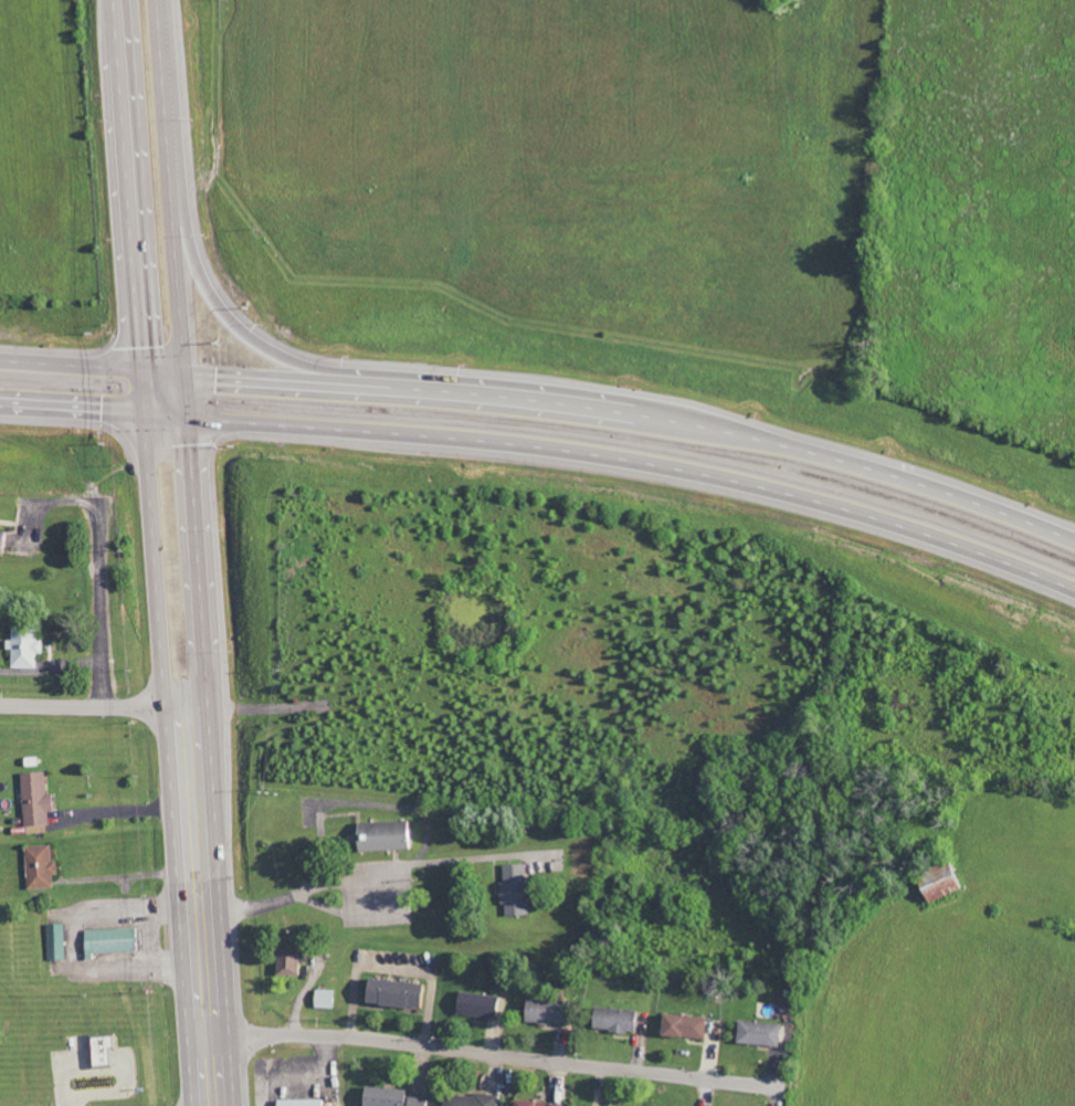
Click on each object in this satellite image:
road: (125, 185)
road: (168, 187)
road: (254, 343)
road: (89, 366)
road: (139, 392)
road: (71, 411)
road: (635, 418)
road: (616, 456)
building: (6, 541)
road: (103, 604)
building: (30, 646)
road: (83, 703)
road: (234, 705)
road: (188, 706)
road: (259, 712)
road: (213, 740)
road: (169, 760)
building: (41, 800)
building: (391, 835)
building: (44, 866)
building: (953, 882)
road: (320, 884)
building: (518, 889)
building: (59, 941)
building: (116, 941)
building: (294, 961)
building: (405, 993)
building: (329, 998)
building: (482, 1004)
building: (550, 1012)
building: (621, 1020)
building: (689, 1025)
building: (765, 1033)
building: (108, 1051)
road: (493, 1052)
building: (396, 1097)
building: (474, 1099)
building: (307, 1103)
building: (541, 1104)

